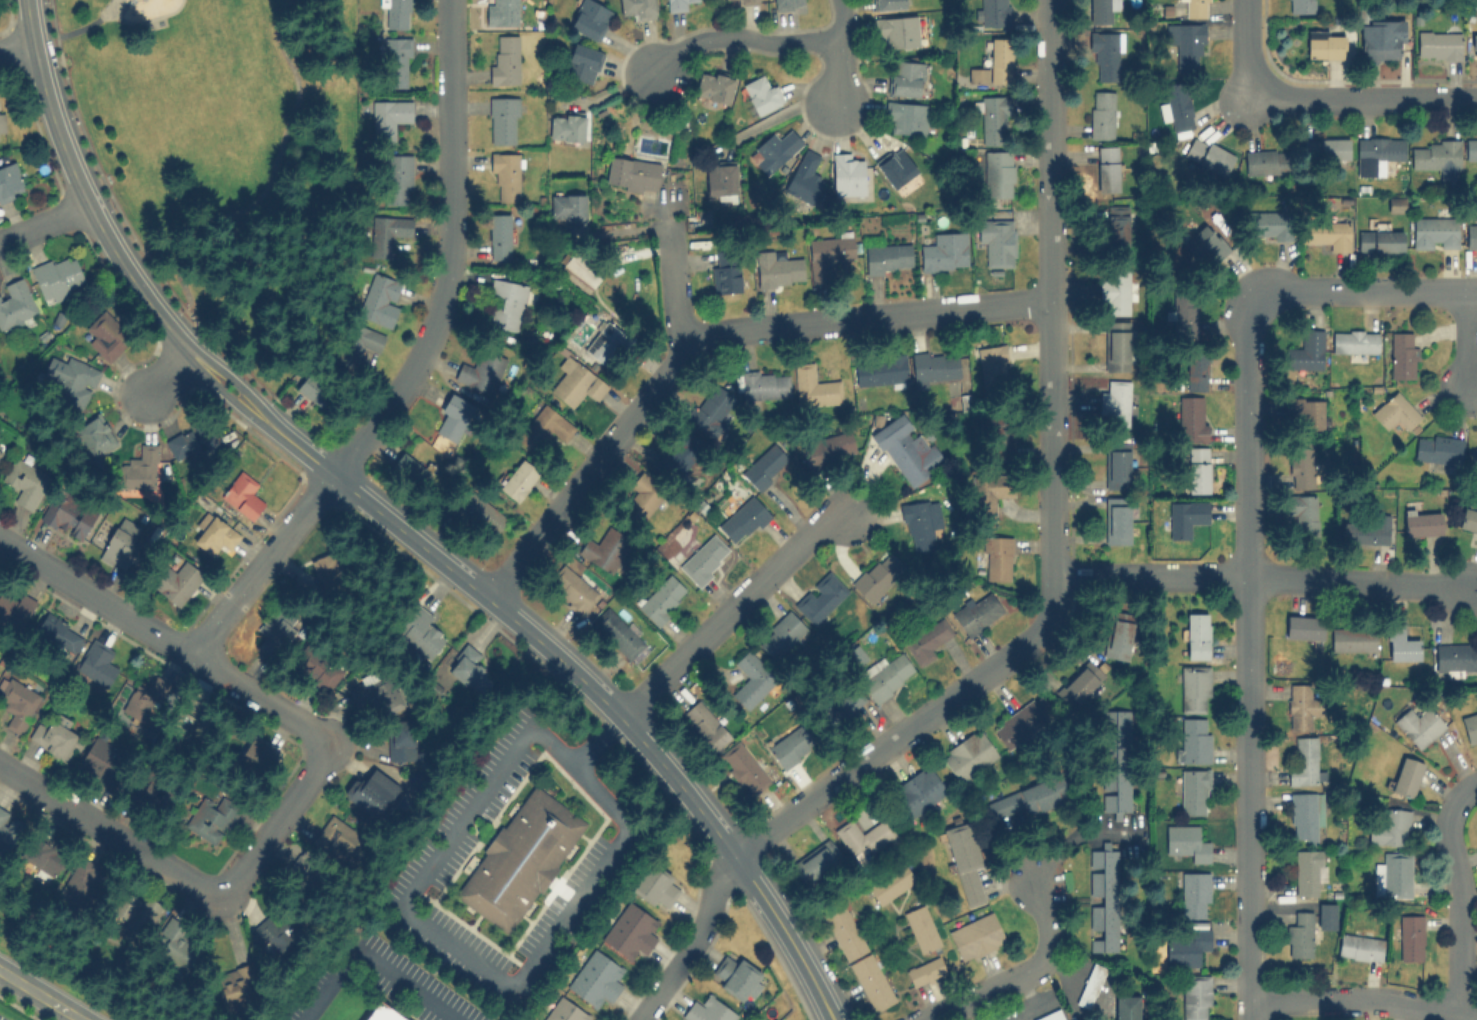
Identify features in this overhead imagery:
building: (740, 1)
building: (677, 4)
building: (786, 4)
building: (888, 4)
building: (1299, 6)
building: (636, 8)
building: (1196, 8)
building: (1101, 10)
building: (505, 11)
building: (992, 12)
building: (396, 13)
building: (589, 18)
road: (76, 28)
building: (897, 30)
road: (744, 38)
building: (1382, 39)
building: (1186, 41)
building: (1324, 43)
building: (1438, 44)
building: (1474, 45)
road: (1242, 46)
road: (16, 52)
road: (840, 53)
building: (1105, 54)
building: (505, 59)
building: (396, 62)
building: (582, 62)
building: (994, 64)
road: (1051, 70)
building: (905, 77)
building: (713, 85)
building: (761, 92)
road: (1364, 100)
building: (1178, 105)
building: (1101, 114)
building: (906, 116)
building: (388, 117)
building: (503, 119)
building: (993, 119)
building: (2, 122)
building: (566, 125)
building: (1471, 147)
building: (1326, 148)
building: (775, 149)
building: (1377, 153)
park: (229, 155)
building: (1208, 155)
building: (1438, 156)
road: (275, 161)
building: (1266, 161)
building: (896, 167)
building: (1107, 167)
building: (996, 171)
building: (632, 173)
building: (847, 173)
building: (505, 174)
building: (804, 176)
building: (398, 178)
building: (720, 179)
building: (10, 181)
building: (568, 207)
building: (1117, 223)
road: (43, 224)
building: (1270, 224)
building: (1435, 232)
building: (1328, 233)
building: (391, 234)
building: (499, 236)
building: (1471, 236)
building: (997, 240)
building: (1379, 240)
building: (1206, 243)
building: (945, 251)
building: (829, 254)
road: (448, 256)
building: (887, 256)
building: (778, 267)
road: (668, 269)
building: (727, 271)
road: (124, 272)
building: (578, 274)
building: (58, 277)
building: (1114, 289)
road: (1363, 289)
building: (381, 299)
building: (15, 303)
building: (504, 304)
building: (1184, 308)
road: (867, 323)
building: (106, 335)
road: (1464, 337)
building: (1117, 341)
building: (1354, 341)
building: (361, 342)
building: (606, 343)
building: (1306, 350)
building: (1402, 354)
road: (1054, 357)
building: (992, 359)
building: (935, 366)
building: (880, 369)
building: (481, 370)
building: (1196, 371)
road: (168, 374)
building: (70, 379)
building: (575, 382)
building: (817, 382)
building: (763, 384)
building: (317, 390)
building: (1115, 403)
building: (711, 409)
building: (1306, 411)
building: (1395, 411)
building: (1191, 417)
building: (452, 418)
building: (547, 425)
building: (95, 434)
building: (191, 443)
building: (1000, 444)
building: (827, 448)
building: (1438, 448)
building: (0, 449)
building: (905, 449)
building: (1473, 453)
building: (677, 455)
building: (1117, 464)
building: (1301, 464)
building: (764, 465)
building: (139, 468)
road: (582, 469)
building: (1198, 469)
building: (407, 470)
building: (518, 479)
building: (25, 481)
building: (991, 489)
building: (242, 495)
building: (642, 496)
building: (1303, 512)
building: (68, 513)
building: (483, 513)
building: (744, 516)
building: (1185, 516)
building: (1117, 519)
building: (1468, 519)
building: (1421, 521)
building: (921, 522)
building: (1365, 529)
building: (214, 533)
building: (119, 545)
building: (604, 549)
building: (997, 557)
building: (705, 559)
road: (259, 567)
building: (333, 569)
road: (1150, 577)
building: (873, 580)
building: (176, 581)
road: (1354, 583)
building: (572, 588)
building: (662, 598)
building: (819, 598)
road: (732, 610)
building: (15, 611)
building: (977, 612)
road: (1048, 616)
building: (1303, 627)
building: (276, 629)
building: (418, 631)
building: (59, 632)
building: (617, 632)
building: (1120, 633)
building: (782, 634)
building: (1196, 634)
building: (1353, 639)
building: (926, 640)
road: (165, 643)
building: (1402, 645)
building: (1456, 656)
road: (1247, 659)
building: (97, 663)
building: (317, 668)
building: (468, 668)
building: (886, 675)
building: (752, 679)
building: (1077, 686)
building: (1194, 688)
building: (377, 694)
building: (156, 695)
building: (17, 702)
building: (841, 704)
building: (1300, 705)
road: (618, 715)
building: (195, 724)
building: (705, 724)
building: (1017, 725)
building: (1419, 725)
building: (1470, 726)
building: (53, 735)
building: (400, 739)
road: (596, 739)
building: (1193, 740)
building: (791, 746)
road: (878, 751)
building: (258, 754)
building: (101, 755)
building: (968, 755)
building: (1116, 761)
building: (1304, 762)
building: (744, 768)
building: (1406, 775)
building: (155, 791)
building: (370, 791)
building: (918, 791)
building: (1193, 791)
road: (1462, 792)
building: (1026, 798)
building: (1306, 815)
building: (211, 818)
building: (1390, 827)
building: (6, 832)
road: (1076, 835)
building: (864, 837)
building: (337, 839)
building: (1186, 842)
road: (611, 846)
building: (45, 856)
building: (520, 860)
building: (964, 860)
parking lot: (430, 861)
building: (470, 864)
building: (812, 864)
building: (1309, 870)
road: (425, 873)
building: (1393, 874)
building: (308, 875)
building: (86, 881)
building: (891, 882)
road: (190, 884)
building: (657, 885)
building: (1194, 894)
building: (1103, 895)
building: (135, 911)
road: (1463, 911)
building: (1326, 915)
building: (921, 928)
building: (630, 930)
building: (275, 931)
building: (844, 931)
building: (975, 935)
building: (1299, 935)
building: (1410, 937)
road: (692, 940)
building: (179, 944)
building: (1360, 946)
building: (1187, 947)
road: (370, 959)
road: (435, 967)
building: (925, 970)
building: (734, 974)
road: (1025, 975)
building: (596, 978)
building: (871, 981)
building: (1090, 984)
building: (236, 987)
road: (41, 994)
building: (1195, 996)
road: (1364, 998)
road: (1034, 1005)
building: (1127, 1007)
building: (708, 1009)
building: (564, 1011)
building: (381, 1013)
building: (1050, 1015)

